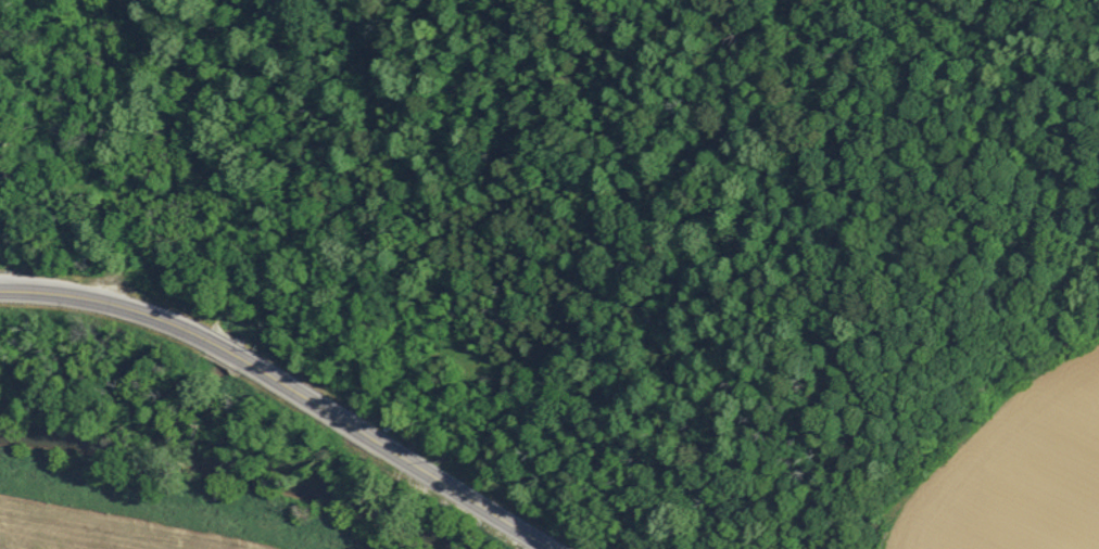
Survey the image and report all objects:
road: (289, 385)

